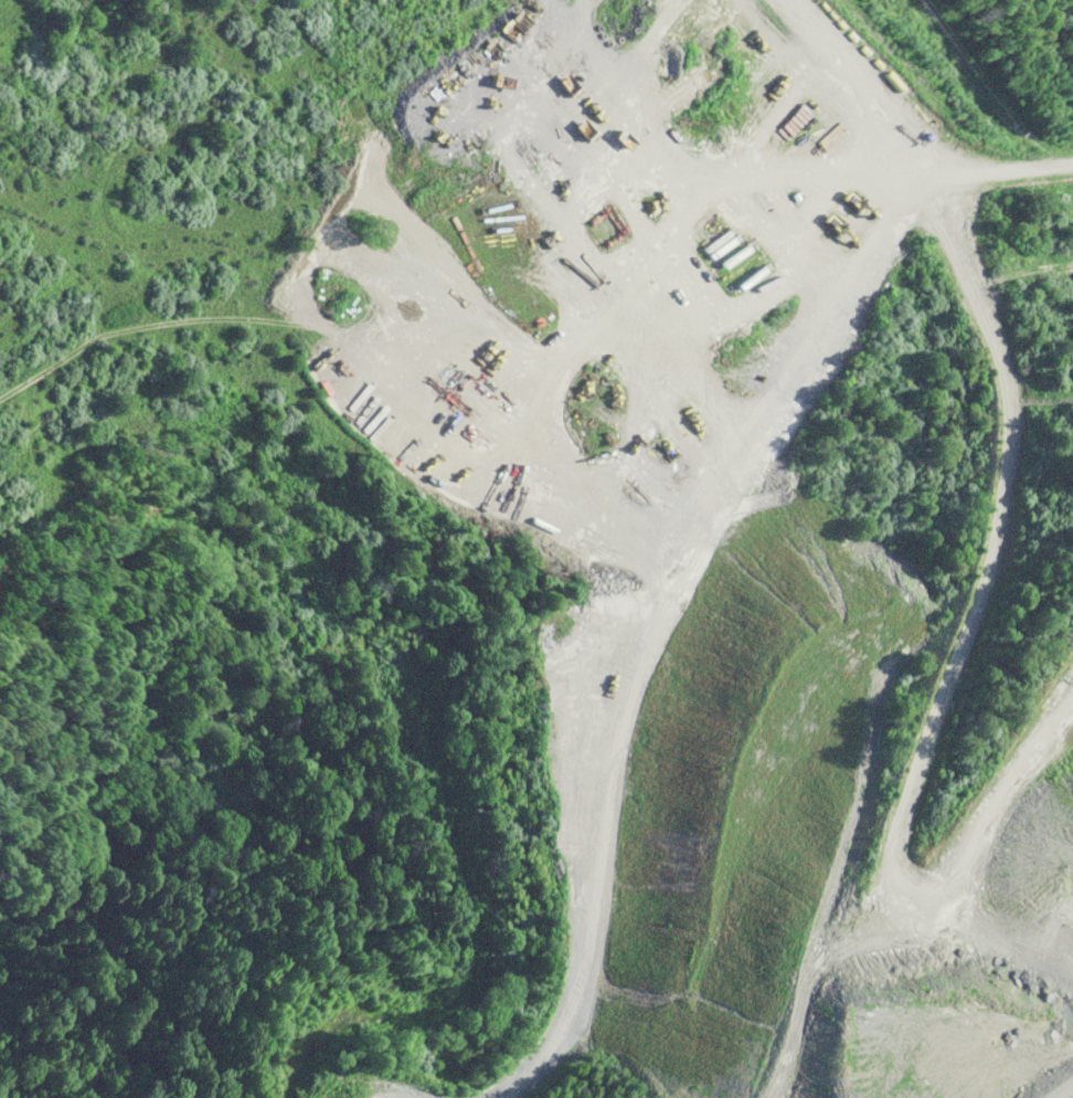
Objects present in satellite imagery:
quarry: (736, 524)

